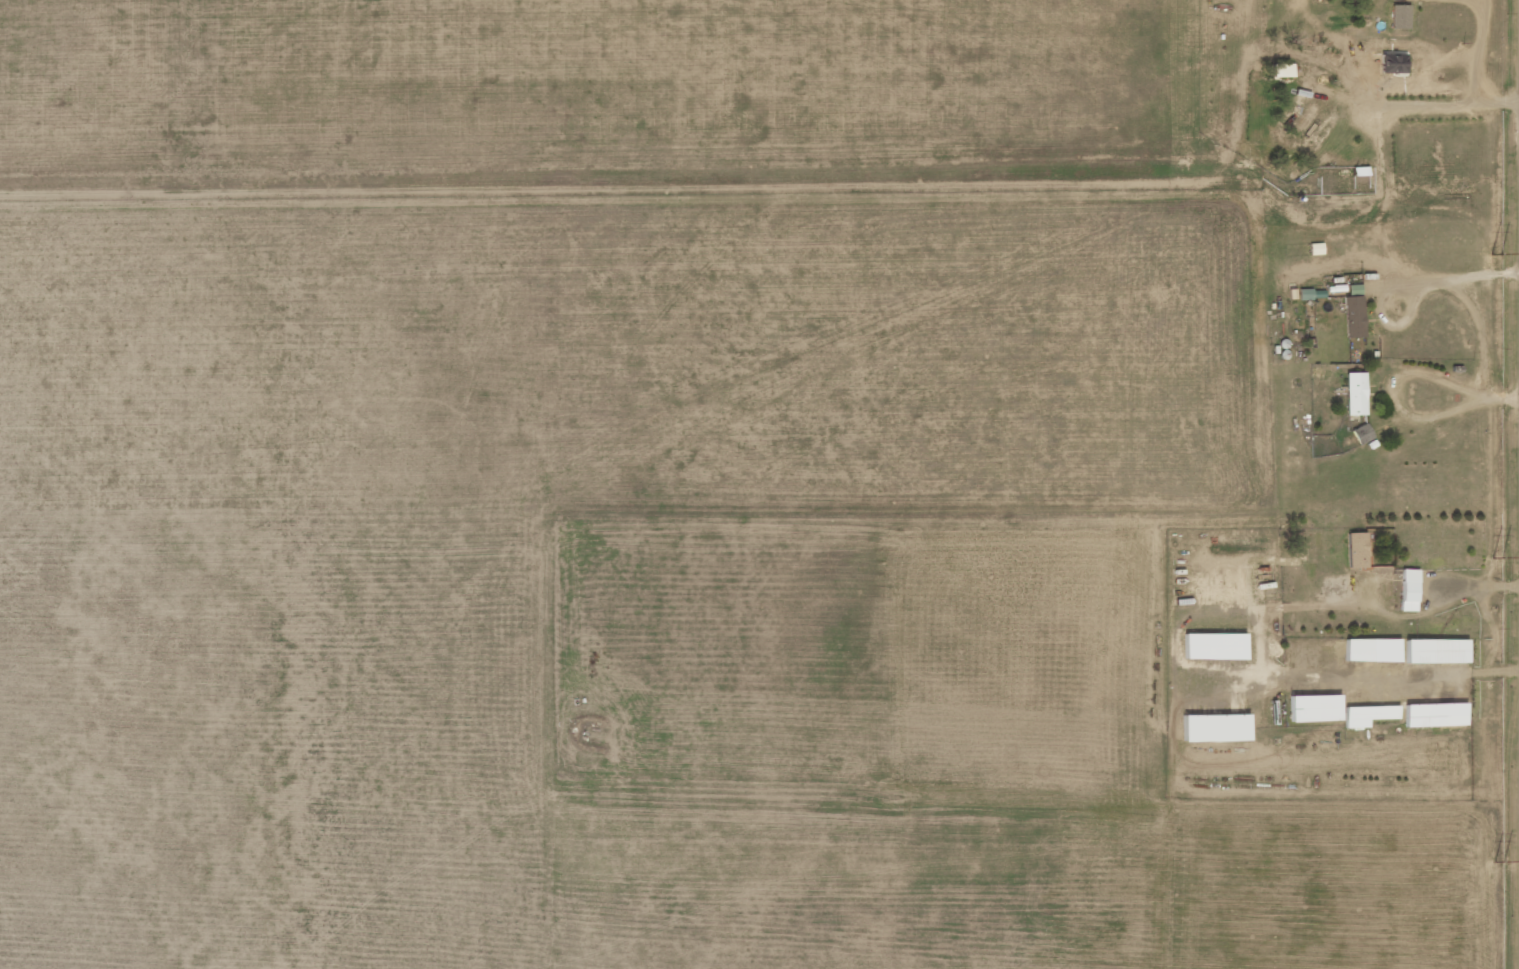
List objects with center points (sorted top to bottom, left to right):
building: (1399, 16)
power tower: (1495, 59)
building: (1392, 64)
building: (1310, 294)
building: (1353, 316)
power tower: (1496, 371)
building: (1355, 394)
building: (1361, 433)
building: (1356, 550)
building: (1408, 590)
building: (1214, 646)
building: (1371, 650)
building: (1435, 651)
power tower: (1497, 683)
building: (1314, 708)
building: (1367, 715)
building: (1434, 715)

